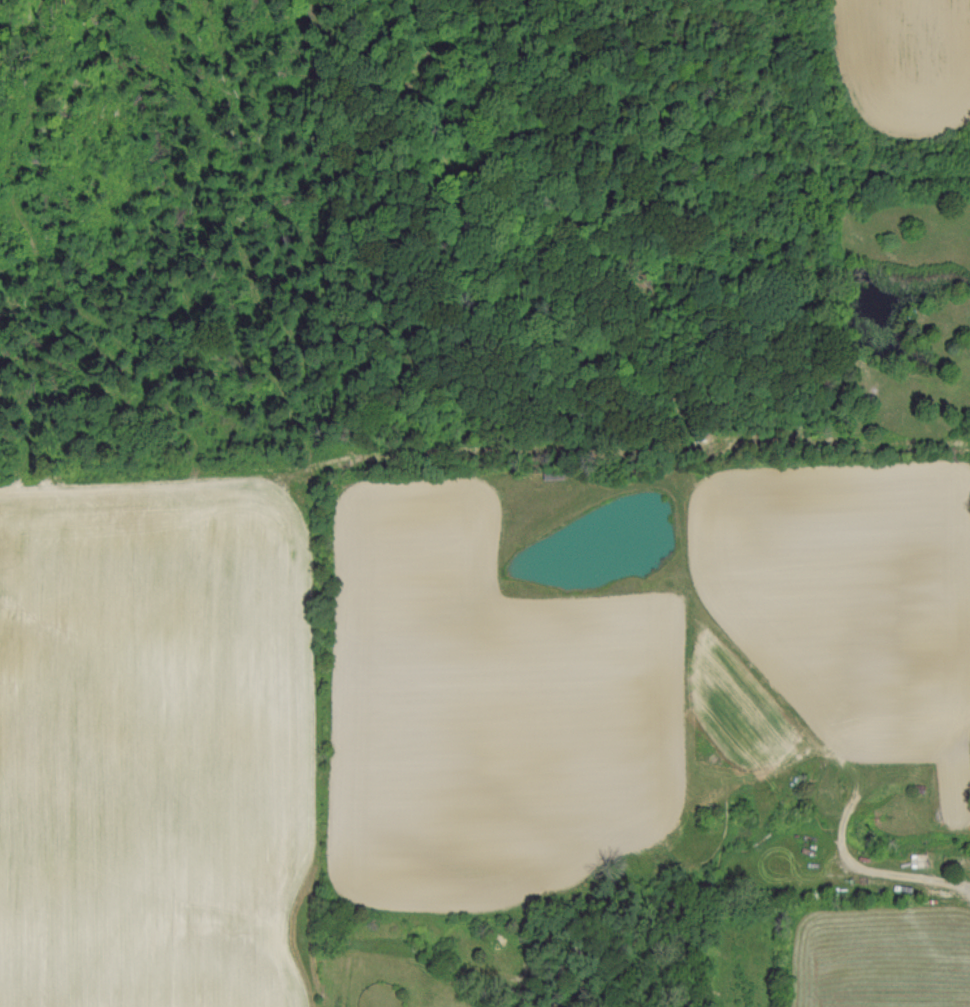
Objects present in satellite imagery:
road: (887, 870)

